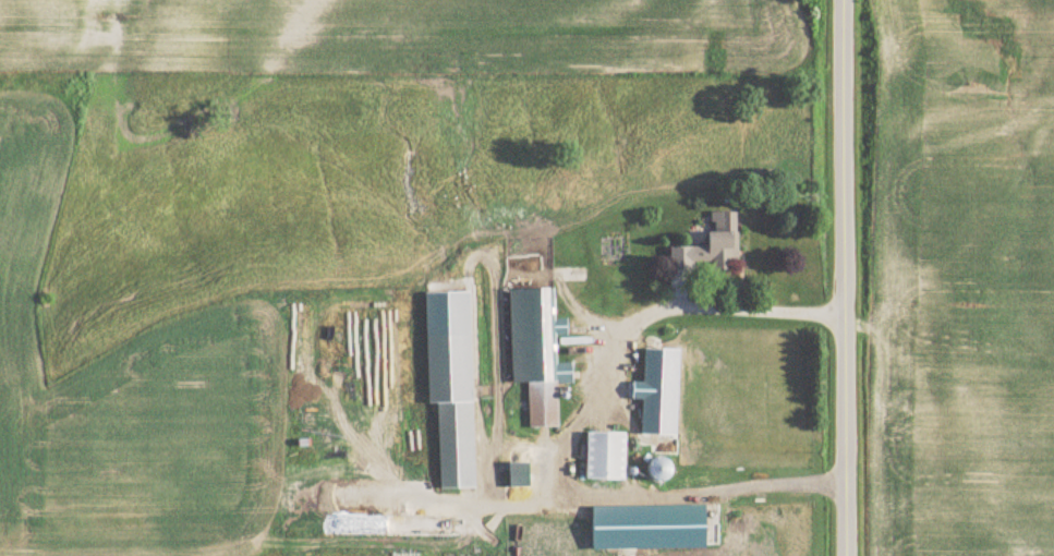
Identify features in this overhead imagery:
building: (718, 242)
road: (845, 277)
road: (696, 302)
building: (545, 358)
building: (650, 419)
building: (455, 438)
building: (605, 455)
building: (618, 552)

